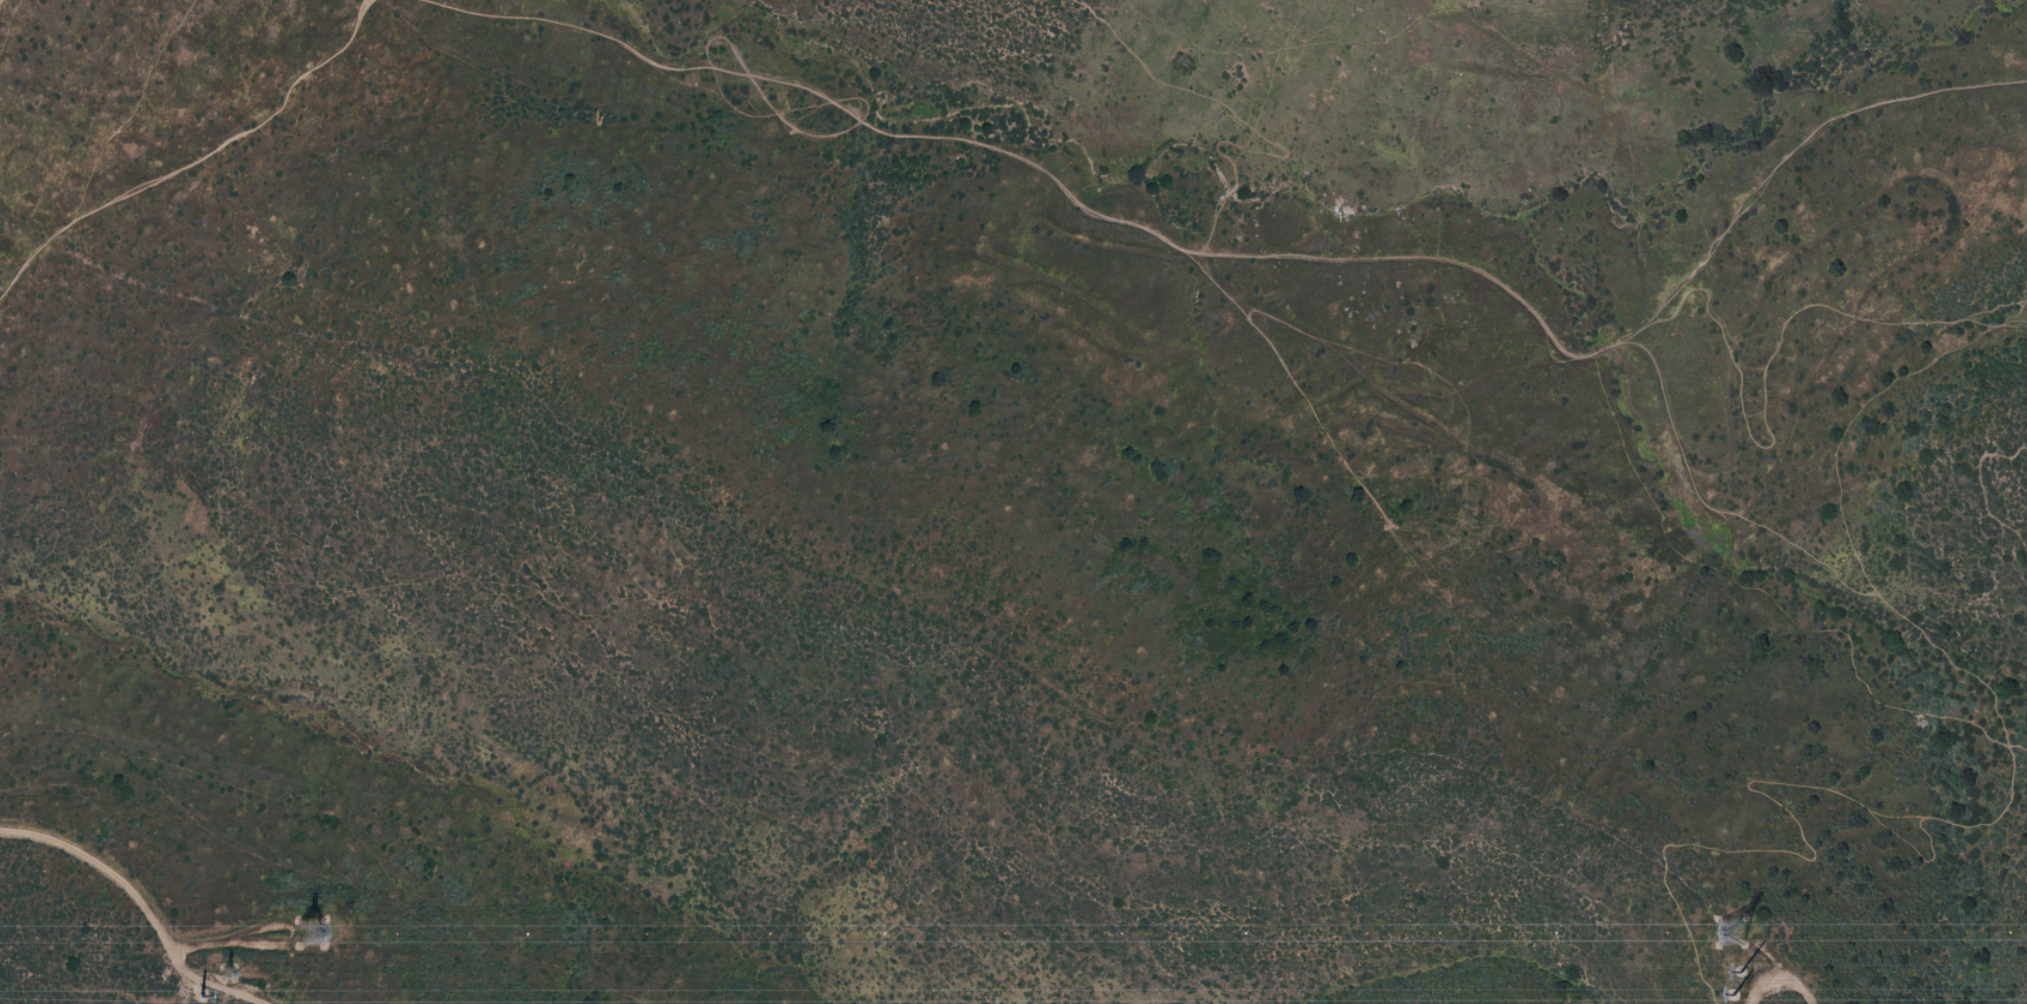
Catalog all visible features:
road: (0, 0)
road: (194, 160)
road: (1269, 256)
road: (2011, 314)
road: (1773, 348)
road: (1840, 438)
road: (1981, 487)
road: (1765, 599)
road: (1888, 604)
road: (1767, 795)
road: (141, 901)
power tower: (310, 939)
power tower: (1737, 941)
road: (1781, 973)
power tower: (230, 977)
power tower: (1740, 979)

